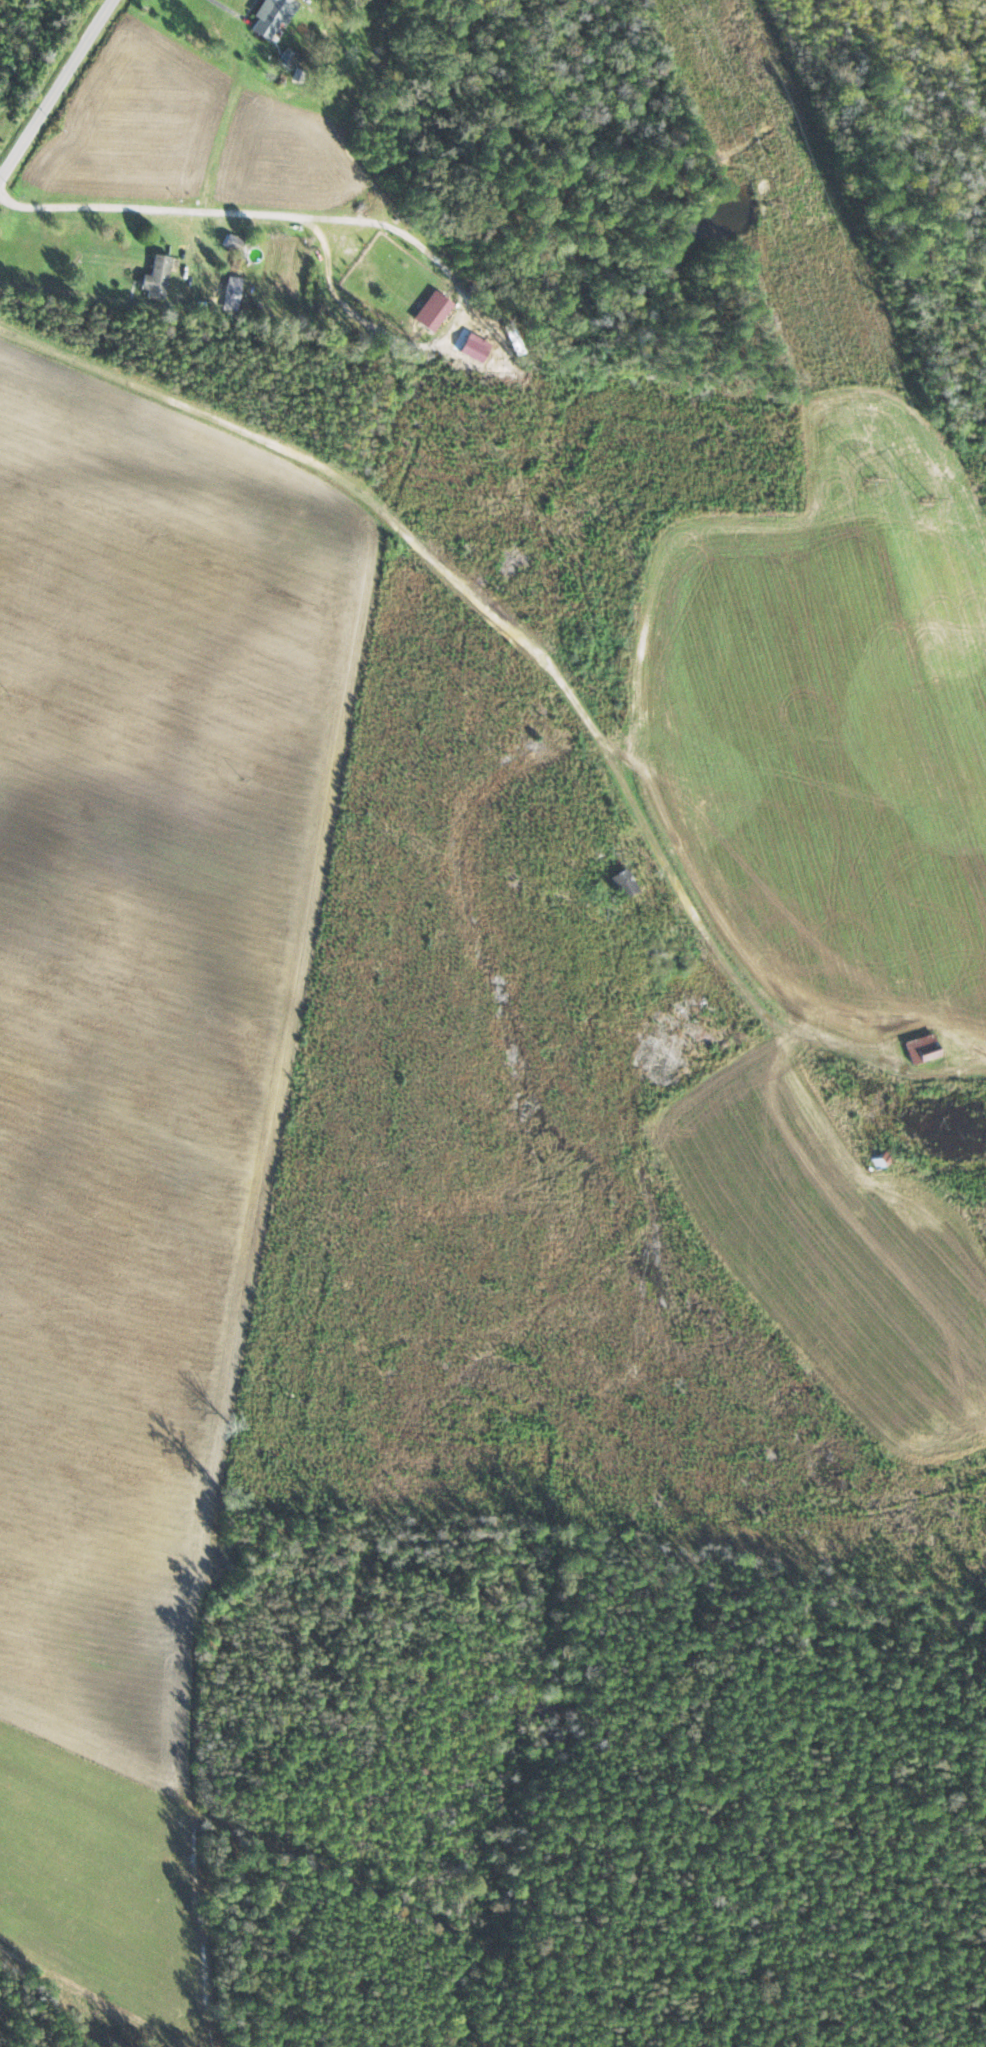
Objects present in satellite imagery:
building: (269, 15)
power tower: (692, 29)
building: (287, 58)
power tower: (768, 103)
road: (76, 118)
building: (156, 277)
building: (231, 293)
power tower: (871, 473)
power tower: (927, 499)
road: (563, 698)
building: (624, 883)
building: (922, 1049)
building: (876, 1160)

